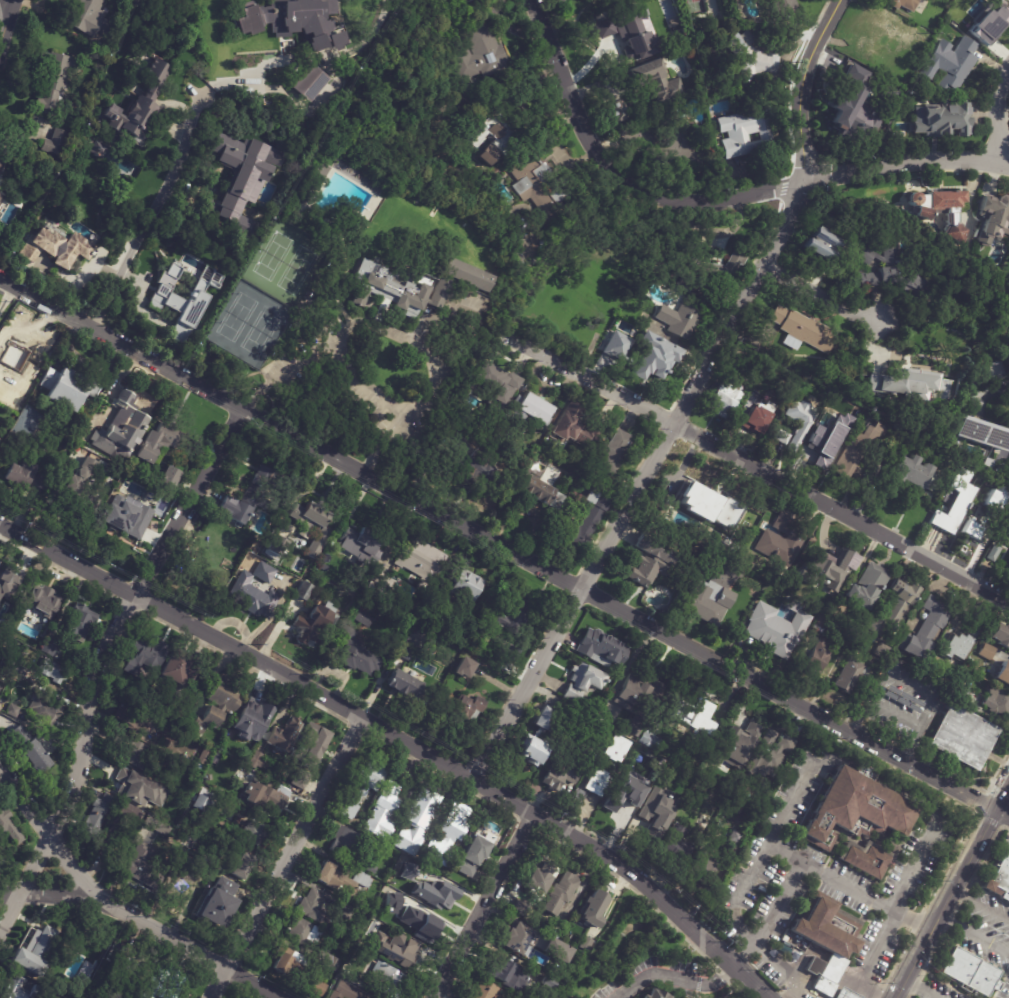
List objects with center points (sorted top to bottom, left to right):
building: (613, 0)
building: (465, 2)
building: (904, 5)
road: (382, 6)
building: (780, 9)
building: (728, 10)
building: (85, 16)
building: (295, 22)
building: (992, 22)
road: (4, 23)
building: (692, 23)
building: (631, 34)
building: (882, 39)
building: (922, 40)
building: (480, 55)
building: (752, 58)
building: (950, 65)
building: (53, 82)
building: (308, 82)
building: (656, 82)
building: (857, 93)
building: (136, 109)
building: (619, 111)
road: (998, 113)
building: (941, 122)
building: (747, 133)
building: (489, 137)
building: (53, 142)
building: (664, 143)
building: (97, 150)
building: (1, 163)
building: (496, 171)
building: (0, 172)
building: (314, 172)
building: (240, 179)
building: (541, 184)
road: (167, 187)
building: (1, 199)
road: (715, 200)
building: (941, 209)
building: (994, 218)
building: (824, 247)
building: (56, 249)
building: (893, 271)
building: (467, 274)
building: (712, 274)
building: (387, 288)
building: (439, 293)
road: (823, 294)
building: (681, 318)
building: (803, 330)
road: (416, 341)
building: (616, 345)
building: (16, 358)
building: (659, 366)
road: (282, 371)
road: (365, 384)
building: (905, 385)
building: (497, 387)
building: (62, 388)
road: (688, 399)
building: (725, 400)
building: (532, 412)
building: (759, 418)
building: (800, 422)
building: (122, 428)
building: (573, 429)
building: (783, 437)
building: (983, 439)
building: (154, 445)
road: (378, 445)
building: (823, 448)
building: (857, 449)
building: (615, 452)
road: (751, 463)
building: (471, 464)
building: (912, 473)
building: (25, 476)
building: (165, 479)
building: (80, 484)
building: (534, 491)
building: (245, 498)
building: (142, 499)
building: (955, 502)
building: (713, 507)
building: (984, 517)
building: (113, 519)
building: (306, 519)
building: (582, 524)
building: (1006, 537)
building: (361, 541)
building: (781, 541)
building: (276, 545)
road: (502, 549)
building: (206, 550)
building: (994, 553)
building: (420, 561)
building: (651, 562)
building: (324, 564)
building: (747, 565)
building: (830, 571)
building: (263, 573)
building: (731, 573)
building: (7, 578)
building: (378, 585)
building: (465, 586)
building: (866, 587)
building: (303, 592)
building: (252, 598)
building: (706, 599)
building: (38, 600)
building: (894, 610)
building: (425, 616)
building: (361, 618)
building: (510, 618)
building: (79, 623)
building: (313, 624)
building: (927, 630)
building: (851, 634)
building: (1000, 635)
building: (772, 636)
building: (964, 642)
building: (48, 647)
building: (819, 647)
building: (1008, 649)
building: (600, 650)
building: (987, 652)
building: (356, 654)
building: (404, 654)
building: (145, 657)
road: (107, 663)
building: (3, 665)
building: (175, 669)
building: (462, 669)
building: (53, 670)
building: (19, 672)
building: (1004, 675)
building: (850, 676)
building: (0, 681)
building: (583, 682)
road: (913, 683)
building: (404, 685)
building: (959, 692)
building: (639, 700)
building: (997, 702)
building: (225, 709)
building: (469, 709)
building: (11, 710)
building: (42, 712)
building: (173, 714)
road: (896, 714)
building: (695, 717)
building: (133, 718)
building: (251, 721)
building: (543, 721)
building: (283, 737)
road: (399, 737)
building: (962, 737)
building: (650, 738)
building: (740, 742)
building: (28, 749)
building: (614, 750)
building: (308, 754)
building: (533, 754)
building: (770, 755)
building: (136, 756)
road: (836, 758)
building: (201, 760)
building: (256, 760)
building: (632, 768)
building: (564, 772)
building: (674, 776)
building: (209, 778)
building: (595, 784)
building: (361, 788)
building: (137, 791)
building: (265, 798)
building: (574, 801)
building: (201, 803)
building: (618, 806)
building: (650, 806)
building: (856, 811)
building: (384, 813)
building: (734, 813)
building: (96, 817)
building: (417, 823)
building: (154, 824)
building: (121, 826)
building: (9, 827)
road: (46, 832)
building: (649, 834)
building: (254, 835)
building: (448, 836)
building: (735, 840)
building: (370, 841)
building: (346, 846)
building: (678, 846)
building: (473, 855)
road: (285, 857)
building: (183, 858)
building: (866, 860)
building: (1, 862)
building: (143, 867)
building: (369, 868)
building: (240, 869)
building: (704, 870)
building: (407, 871)
road: (828, 874)
building: (538, 877)
building: (997, 877)
building: (340, 880)
building: (393, 881)
building: (183, 883)
road: (949, 886)
building: (436, 894)
road: (8, 895)
building: (559, 895)
road: (777, 902)
building: (218, 903)
road: (979, 903)
road: (483, 905)
building: (521, 907)
building: (595, 909)
building: (314, 910)
building: (345, 912)
building: (415, 924)
road: (153, 927)
road: (972, 931)
building: (301, 934)
building: (517, 941)
building: (826, 941)
building: (585, 945)
building: (553, 947)
building: (85, 950)
building: (32, 952)
building: (398, 953)
road: (866, 953)
building: (329, 961)
building: (287, 963)
building: (128, 966)
building: (968, 969)
road: (784, 971)
building: (511, 977)
road: (677, 977)
building: (386, 980)
building: (166, 983)
road: (873, 983)
road: (922, 984)
building: (548, 986)
building: (21, 989)
building: (318, 989)
building: (486, 990)
road: (791, 991)
building: (345, 992)
building: (654, 994)
building: (843, 994)
building: (813, 997)

